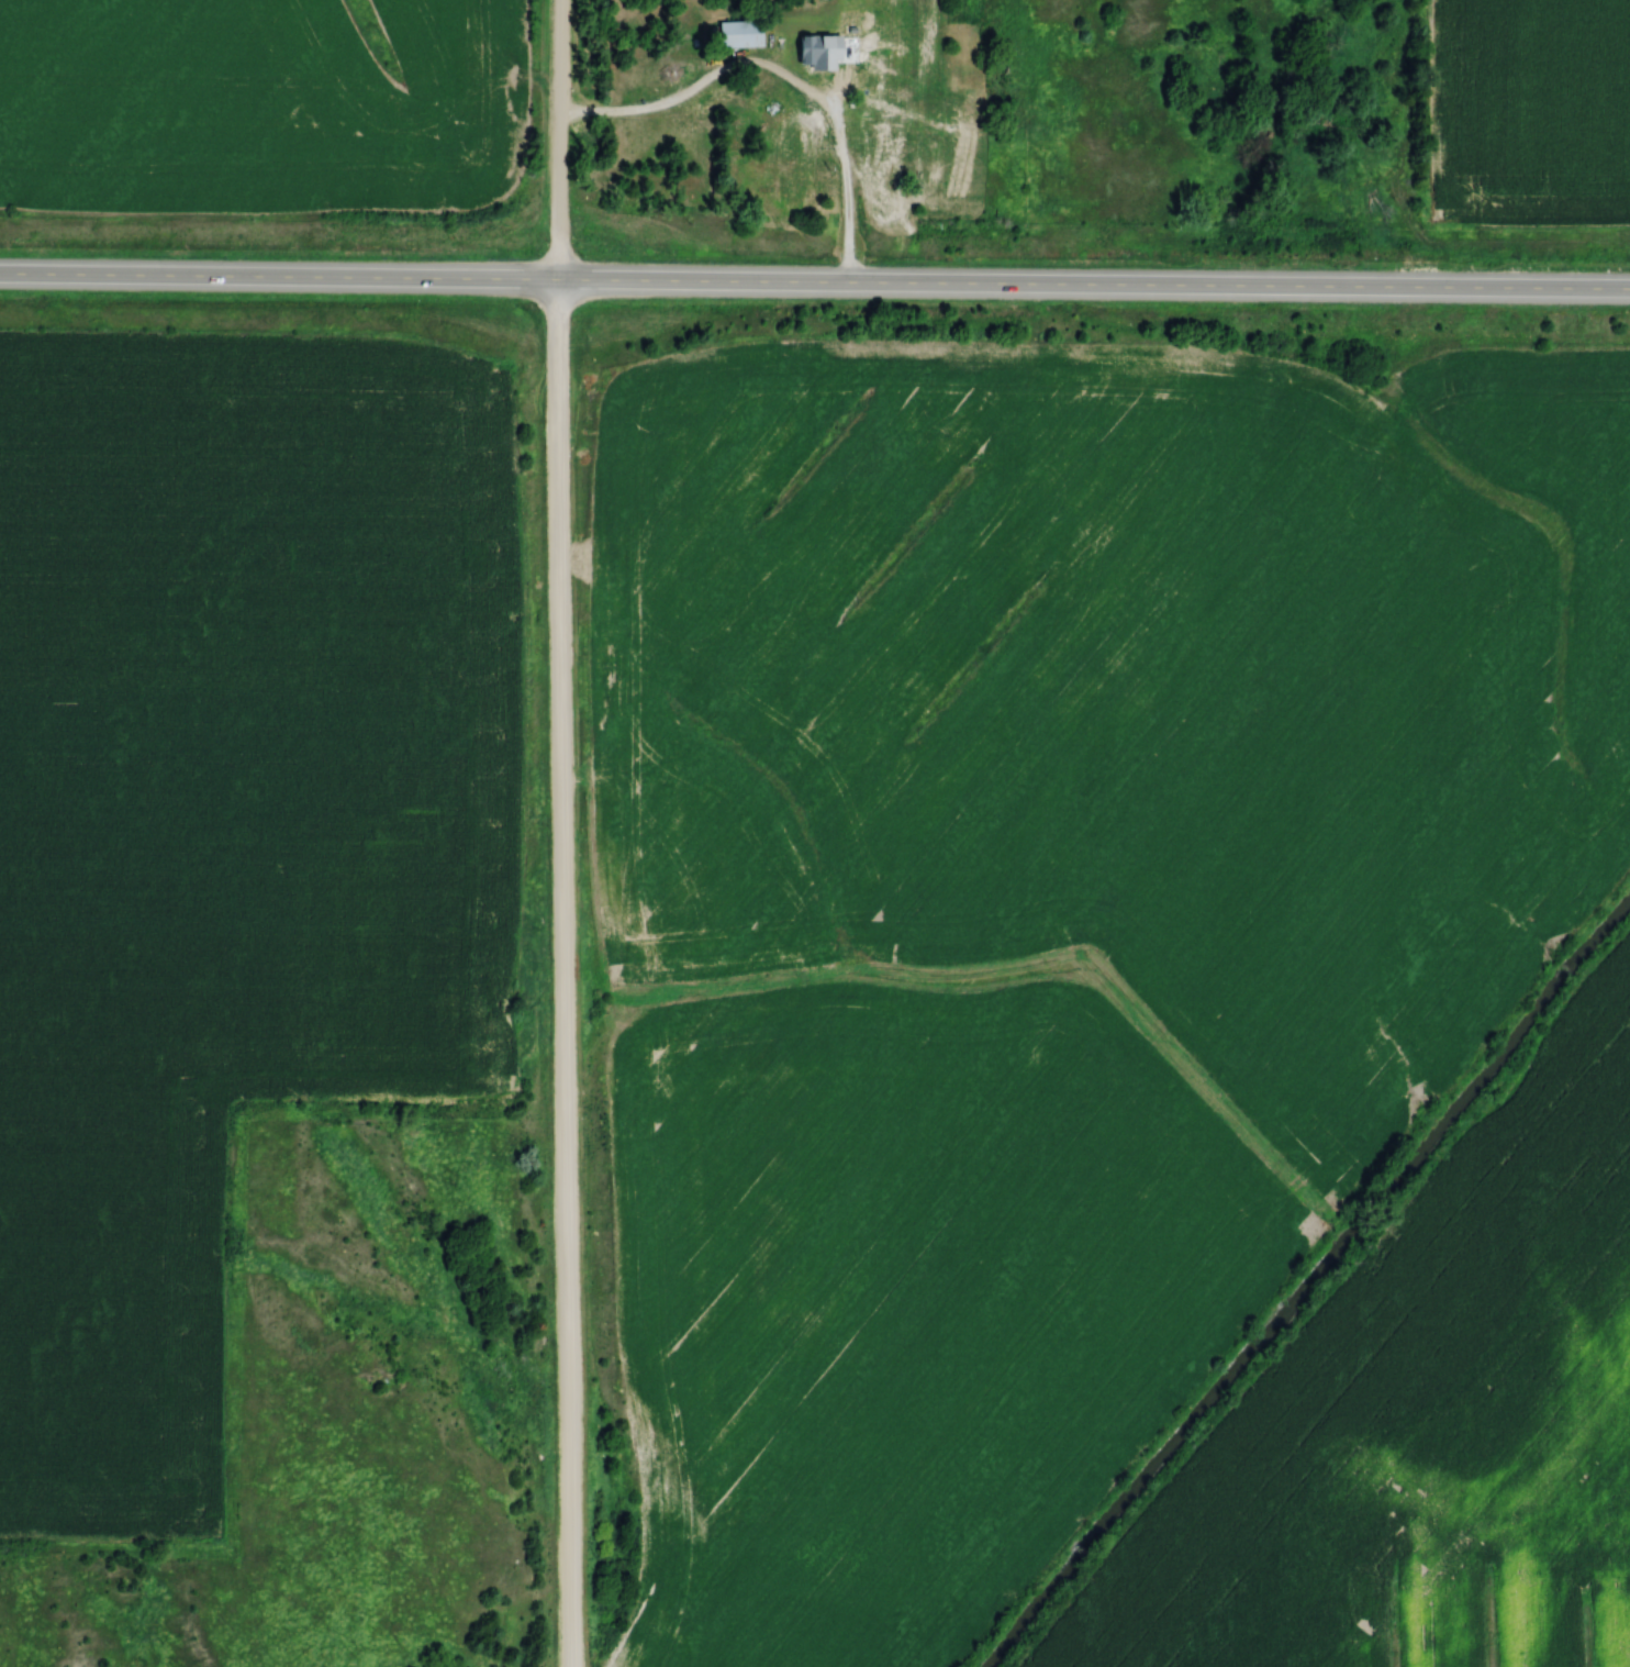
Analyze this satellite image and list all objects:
building: (744, 34)
road: (655, 109)
building: (914, 115)
road: (557, 141)
building: (796, 190)
road: (845, 205)
road: (815, 286)
road: (561, 975)

